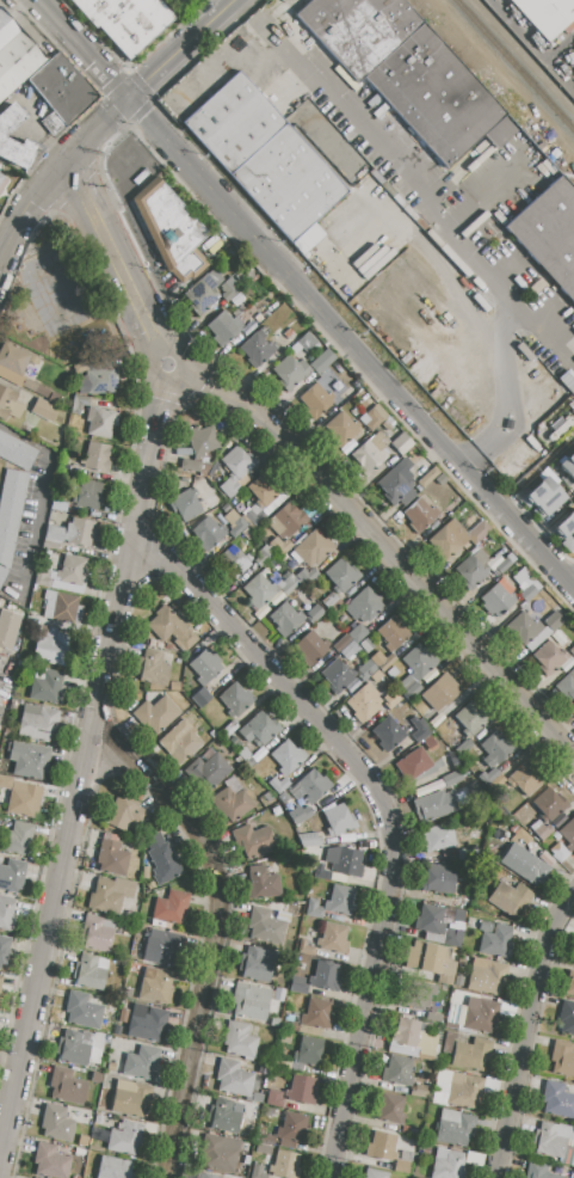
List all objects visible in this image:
building: (545, 14)
building: (128, 20)
road: (82, 49)
road: (180, 49)
building: (16, 55)
railway: (514, 66)
building: (573, 67)
building: (407, 70)
building: (62, 88)
traffic signals: (128, 98)
building: (7, 127)
road: (97, 128)
road: (385, 139)
building: (264, 155)
road: (412, 170)
road: (396, 178)
building: (2, 180)
road: (480, 203)
road: (27, 211)
road: (420, 222)
building: (171, 231)
building: (549, 233)
building: (307, 238)
road: (113, 252)
road: (439, 264)
road: (506, 269)
building: (228, 289)
building: (203, 292)
park: (57, 296)
road: (547, 315)
road: (504, 318)
building: (222, 327)
building: (307, 343)
road: (350, 344)
building: (257, 348)
road: (183, 352)
building: (322, 362)
building: (16, 367)
road: (143, 370)
building: (290, 373)
building: (97, 376)
road: (179, 386)
building: (316, 400)
building: (79, 403)
building: (10, 404)
building: (44, 411)
road: (504, 412)
building: (372, 417)
building: (100, 422)
building: (341, 427)
building: (200, 441)
building: (402, 443)
building: (16, 452)
building: (370, 452)
building: (97, 456)
building: (568, 465)
building: (191, 466)
building: (235, 470)
building: (243, 480)
building: (396, 484)
building: (266, 490)
building: (88, 495)
building: (543, 496)
road: (41, 497)
building: (58, 507)
building: (185, 507)
building: (420, 514)
building: (10, 515)
building: (254, 517)
building: (288, 520)
building: (237, 527)
building: (566, 530)
building: (208, 532)
building: (479, 532)
building: (72, 533)
building: (451, 538)
building: (279, 546)
building: (315, 547)
building: (263, 554)
road: (393, 557)
building: (234, 559)
building: (273, 562)
building: (504, 565)
building: (471, 570)
building: (307, 575)
building: (341, 575)
building: (64, 576)
building: (288, 582)
road: (570, 583)
building: (259, 590)
building: (527, 593)
building: (498, 599)
building: (332, 602)
building: (364, 605)
building: (62, 607)
building: (314, 613)
building: (285, 619)
building: (554, 621)
building: (172, 627)
building: (524, 627)
building: (7, 630)
building: (394, 632)
building: (357, 633)
building: (365, 645)
building: (311, 648)
building: (54, 649)
building: (348, 649)
building: (572, 651)
building: (549, 657)
building: (385, 662)
building: (205, 667)
building: (152, 668)
building: (365, 670)
building: (416, 670)
building: (337, 675)
road: (1, 680)
building: (568, 685)
building: (174, 686)
building: (48, 687)
building: (440, 692)
building: (200, 698)
building: (390, 699)
building: (235, 700)
building: (363, 702)
building: (0, 708)
building: (156, 713)
building: (470, 719)
building: (37, 723)
building: (229, 728)
building: (259, 729)
building: (420, 730)
building: (388, 734)
building: (180, 742)
building: (495, 749)
building: (288, 757)
building: (29, 760)
building: (413, 763)
building: (206, 771)
road: (79, 778)
building: (452, 778)
building: (526, 778)
building: (277, 784)
building: (310, 786)
building: (267, 796)
building: (24, 799)
building: (232, 802)
building: (434, 804)
building: (548, 804)
road: (382, 809)
building: (301, 814)
building: (125, 815)
building: (338, 820)
building: (543, 832)
building: (568, 833)
building: (523, 836)
building: (17, 838)
building: (438, 838)
building: (308, 839)
building: (253, 840)
building: (558, 852)
building: (547, 858)
building: (113, 859)
building: (344, 860)
building: (162, 861)
building: (531, 869)
building: (321, 872)
building: (12, 876)
building: (438, 878)
building: (261, 883)
building: (110, 895)
building: (510, 897)
building: (340, 900)
building: (169, 908)
building: (314, 908)
building: (6, 914)
building: (458, 915)
building: (431, 922)
building: (265, 926)
building: (486, 926)
road: (216, 933)
building: (98, 934)
building: (452, 937)
building: (333, 938)
building: (496, 941)
building: (163, 947)
building: (4, 949)
building: (307, 950)
building: (430, 959)
building: (255, 964)
building: (90, 971)
building: (325, 976)
building: (0, 978)
building: (487, 978)
building: (458, 981)
building: (569, 983)
building: (298, 984)
building: (156, 986)
building: (418, 996)
building: (252, 1001)
building: (87, 1010)
building: (436, 1013)
building: (122, 1014)
building: (316, 1014)
building: (481, 1016)
building: (567, 1018)
building: (274, 1021)
building: (147, 1023)
building: (451, 1024)
building: (290, 1026)
road: (525, 1030)
building: (406, 1032)
building: (285, 1037)
building: (239, 1041)
building: (449, 1041)
building: (425, 1044)
building: (80, 1048)
building: (307, 1054)
building: (470, 1054)
building: (562, 1057)
building: (142, 1062)
building: (110, 1067)
building: (397, 1070)
building: (97, 1078)
building: (233, 1078)
building: (490, 1085)
building: (66, 1086)
building: (302, 1090)
building: (420, 1091)
building: (459, 1091)
building: (130, 1097)
building: (274, 1098)
building: (557, 1100)
building: (390, 1108)
building: (223, 1116)
building: (57, 1124)
building: (453, 1127)
building: (291, 1129)
building: (125, 1139)
building: (82, 1141)
building: (556, 1142)
building: (382, 1146)
building: (81, 1152)
building: (221, 1153)
building: (474, 1159)
building: (50, 1161)
building: (448, 1164)
building: (284, 1165)
building: (402, 1166)
building: (115, 1168)
building: (538, 1171)
building: (375, 1173)
building: (208, 1176)

